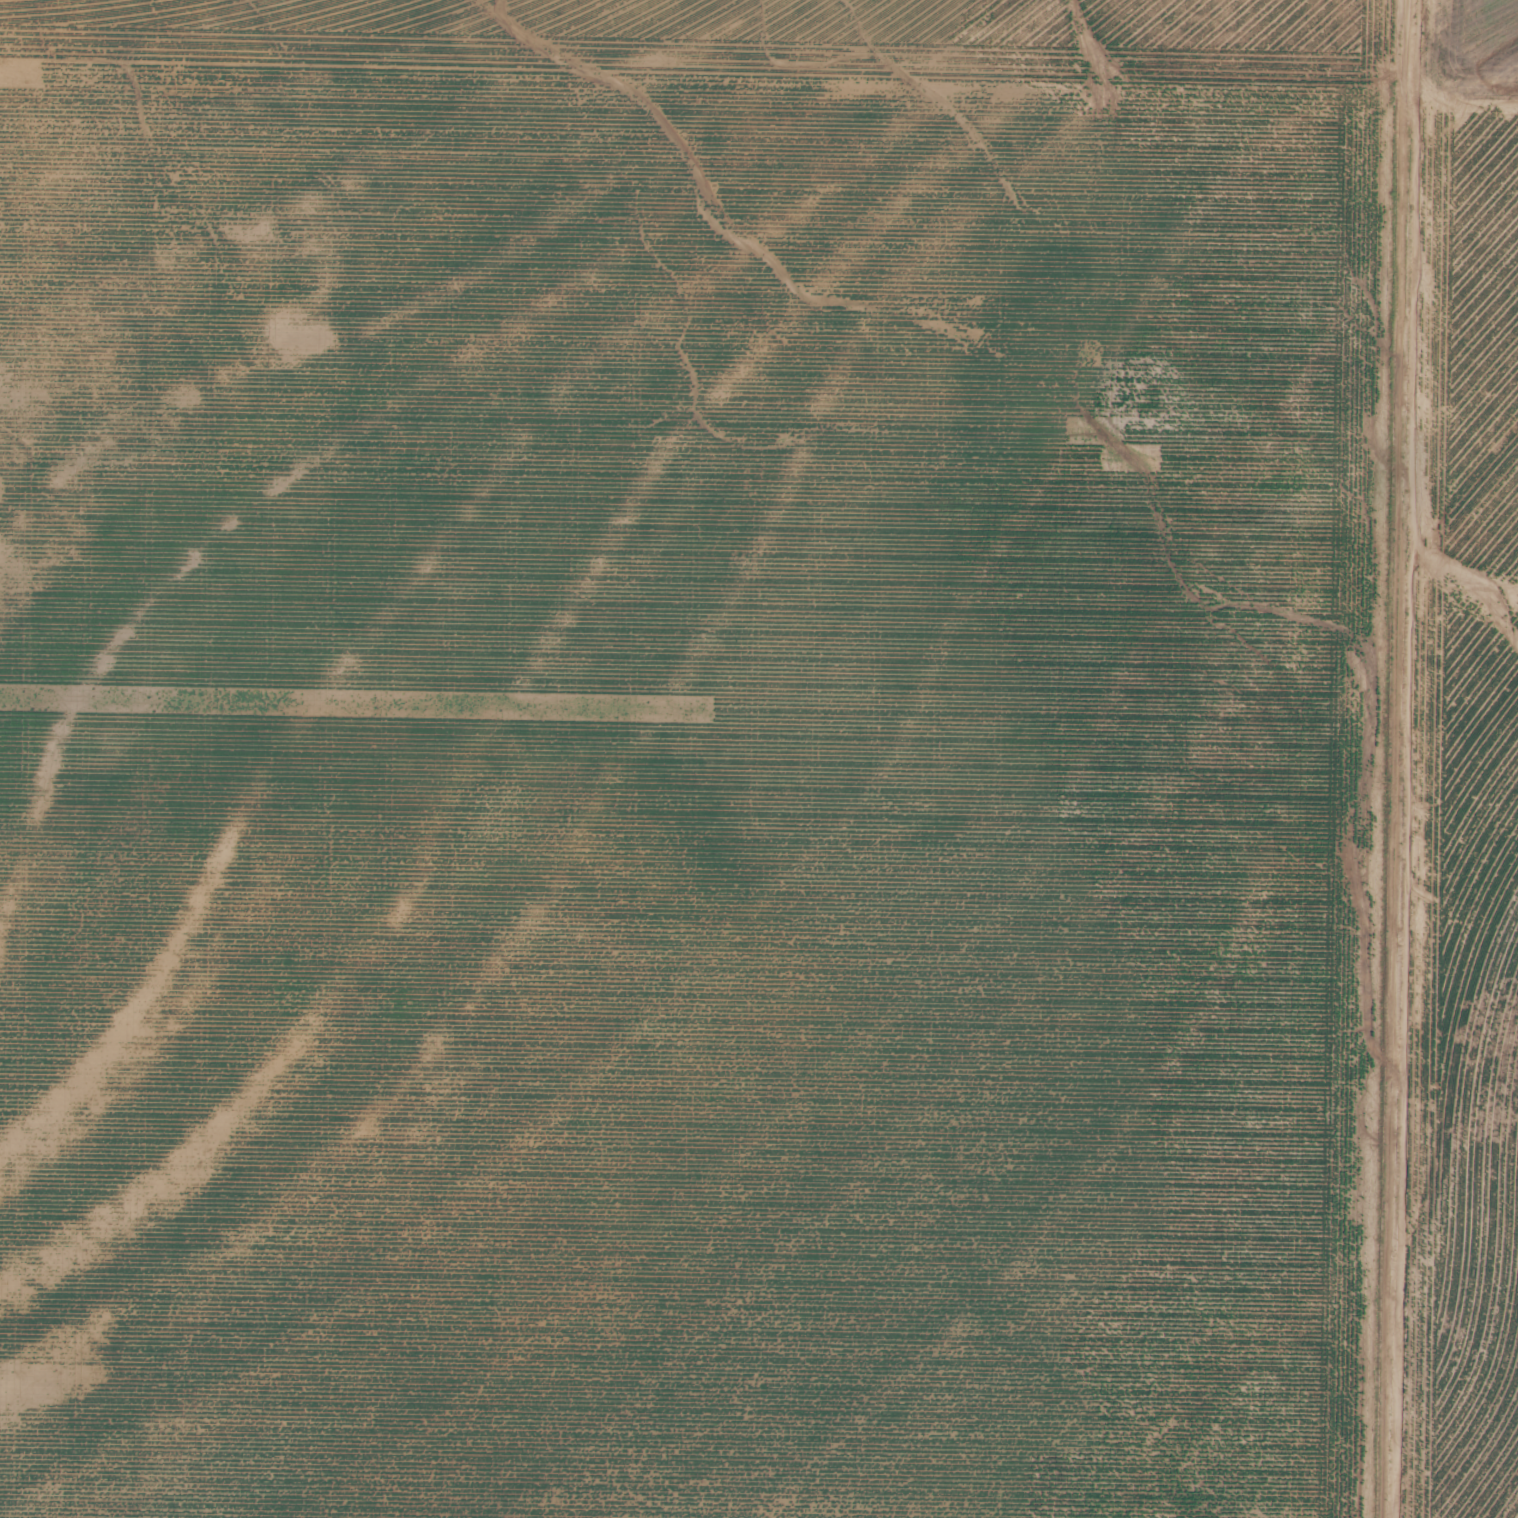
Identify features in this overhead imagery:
road: (1359, 759)

